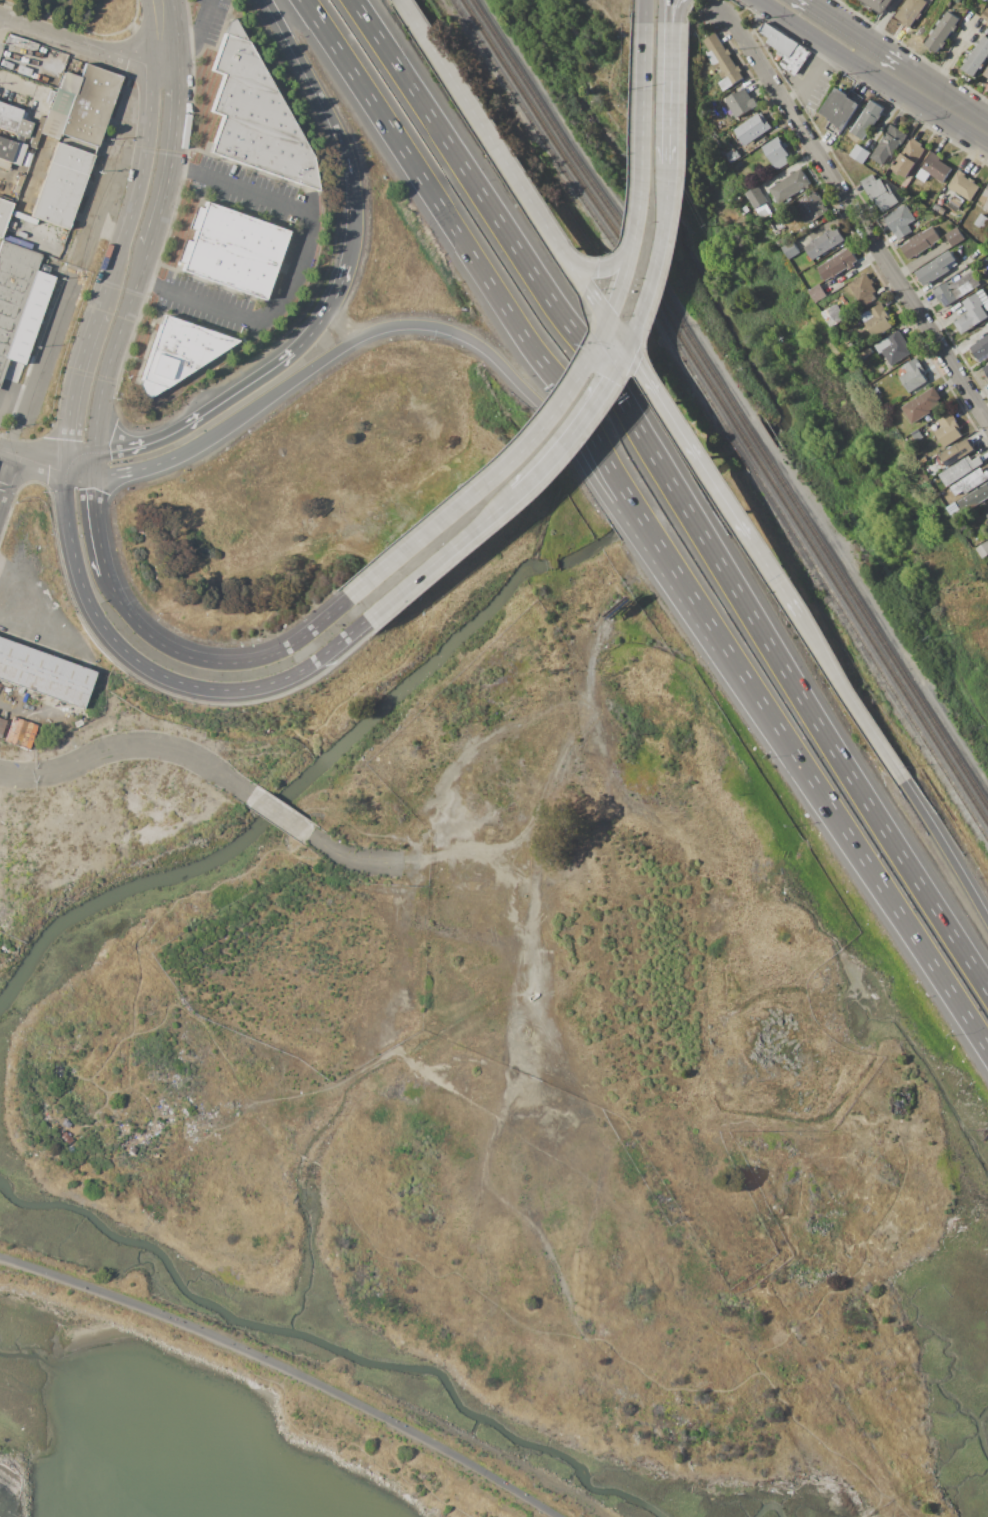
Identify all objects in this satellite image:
building: (987, 0)
building: (878, 4)
road: (645, 11)
road: (671, 11)
road: (677, 11)
building: (911, 11)
building: (985, 15)
road: (881, 21)
building: (942, 31)
road: (163, 32)
road: (852, 32)
road: (822, 43)
road: (81, 45)
building: (786, 49)
building: (977, 57)
building: (722, 62)
building: (985, 75)
road: (810, 79)
road: (669, 92)
building: (739, 104)
building: (90, 105)
road: (940, 105)
building: (59, 106)
building: (841, 109)
building: (255, 117)
building: (13, 120)
building: (867, 120)
building: (758, 124)
road: (482, 126)
road: (334, 127)
building: (36, 131)
building: (730, 134)
building: (888, 144)
building: (777, 152)
building: (859, 153)
building: (10, 154)
building: (732, 155)
building: (908, 157)
building: (42, 167)
building: (933, 169)
road: (641, 173)
building: (61, 185)
building: (790, 185)
building: (963, 185)
building: (879, 192)
road: (666, 194)
building: (756, 196)
building: (985, 198)
road: (99, 202)
building: (813, 205)
building: (936, 208)
road: (854, 213)
building: (4, 215)
railway: (610, 216)
railway: (602, 219)
railway: (593, 221)
building: (900, 221)
building: (981, 221)
building: (954, 236)
road: (511, 242)
building: (920, 242)
building: (824, 243)
building: (789, 249)
building: (232, 250)
road: (469, 254)
road: (143, 259)
road: (113, 263)
building: (838, 264)
road: (295, 265)
building: (53, 268)
building: (937, 268)
road: (596, 270)
road: (586, 286)
road: (648, 287)
building: (956, 288)
building: (864, 289)
building: (12, 292)
building: (818, 293)
road: (333, 296)
building: (31, 304)
building: (822, 304)
building: (974, 311)
building: (834, 315)
building: (866, 316)
building: (879, 321)
road: (366, 333)
road: (617, 333)
building: (981, 347)
building: (894, 348)
building: (178, 353)
road: (43, 361)
building: (986, 369)
building: (914, 375)
building: (922, 405)
road: (214, 406)
road: (580, 421)
building: (948, 430)
building: (918, 436)
railway: (754, 441)
road: (688, 442)
railway: (747, 446)
railway: (739, 450)
building: (957, 452)
road: (76, 455)
road: (31, 457)
road: (91, 462)
road: (6, 470)
building: (960, 470)
road: (496, 475)
building: (970, 482)
road: (675, 495)
building: (974, 498)
building: (987, 515)
road: (641, 518)
road: (95, 524)
road: (625, 527)
building: (983, 550)
road: (444, 553)
road: (774, 577)
railway: (873, 629)
road: (42, 636)
railway: (870, 639)
road: (721, 640)
road: (713, 644)
railway: (866, 649)
road: (217, 662)
road: (152, 671)
building: (44, 674)
road: (849, 699)
building: (2, 726)
building: (20, 732)
road: (128, 746)
road: (831, 748)
road: (278, 815)
road: (946, 852)
road: (351, 859)
road: (892, 902)
park: (229, 1365)
road: (283, 1372)
park: (613, 1377)
road: (261, 1378)

